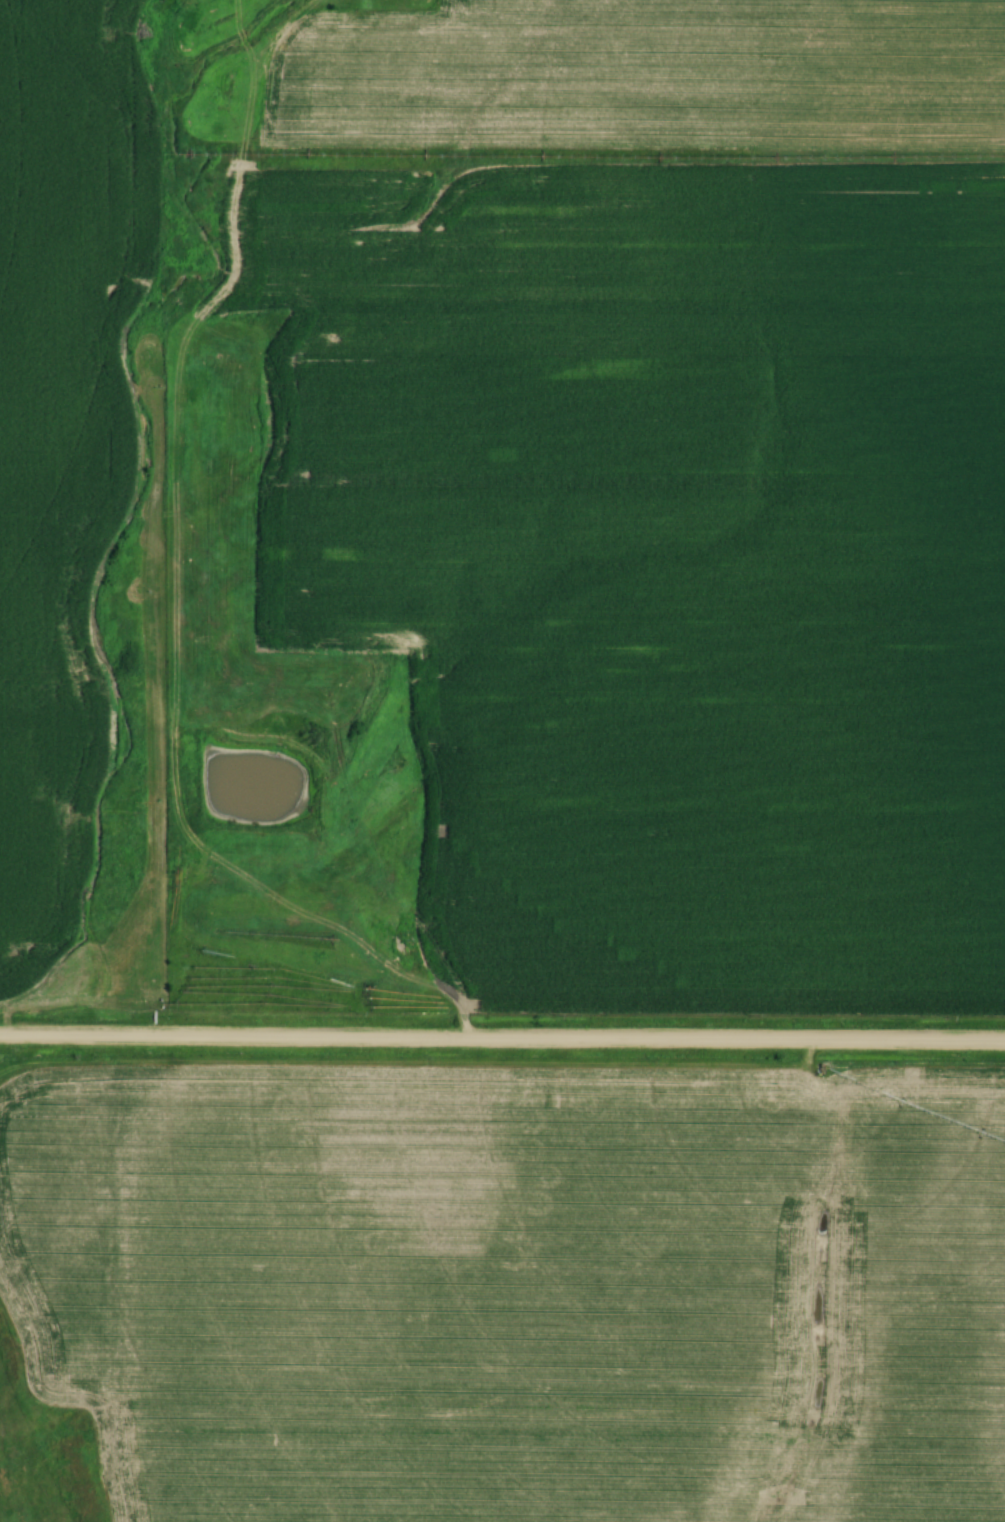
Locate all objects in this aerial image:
road: (502, 1043)

